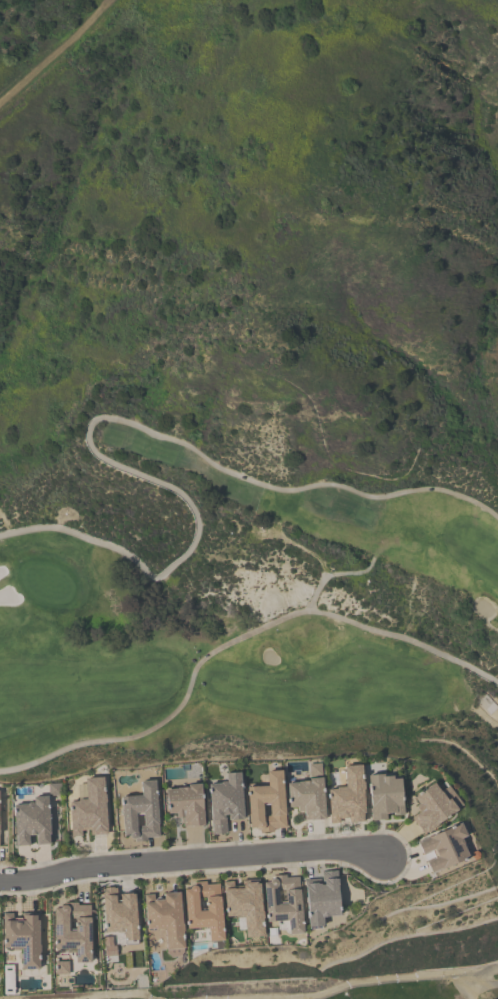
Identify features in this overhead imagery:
road: (54, 53)
road: (103, 418)
park: (234, 609)
road: (234, 641)
building: (348, 797)
building: (384, 797)
building: (307, 798)
building: (225, 802)
building: (267, 804)
building: (186, 805)
building: (433, 807)
building: (89, 810)
building: (141, 813)
building: (32, 822)
building: (444, 848)
road: (191, 859)
road: (407, 860)
building: (321, 898)
building: (283, 902)
building: (244, 905)
building: (204, 909)
building: (120, 914)
building: (165, 918)
building: (73, 930)
building: (23, 938)

